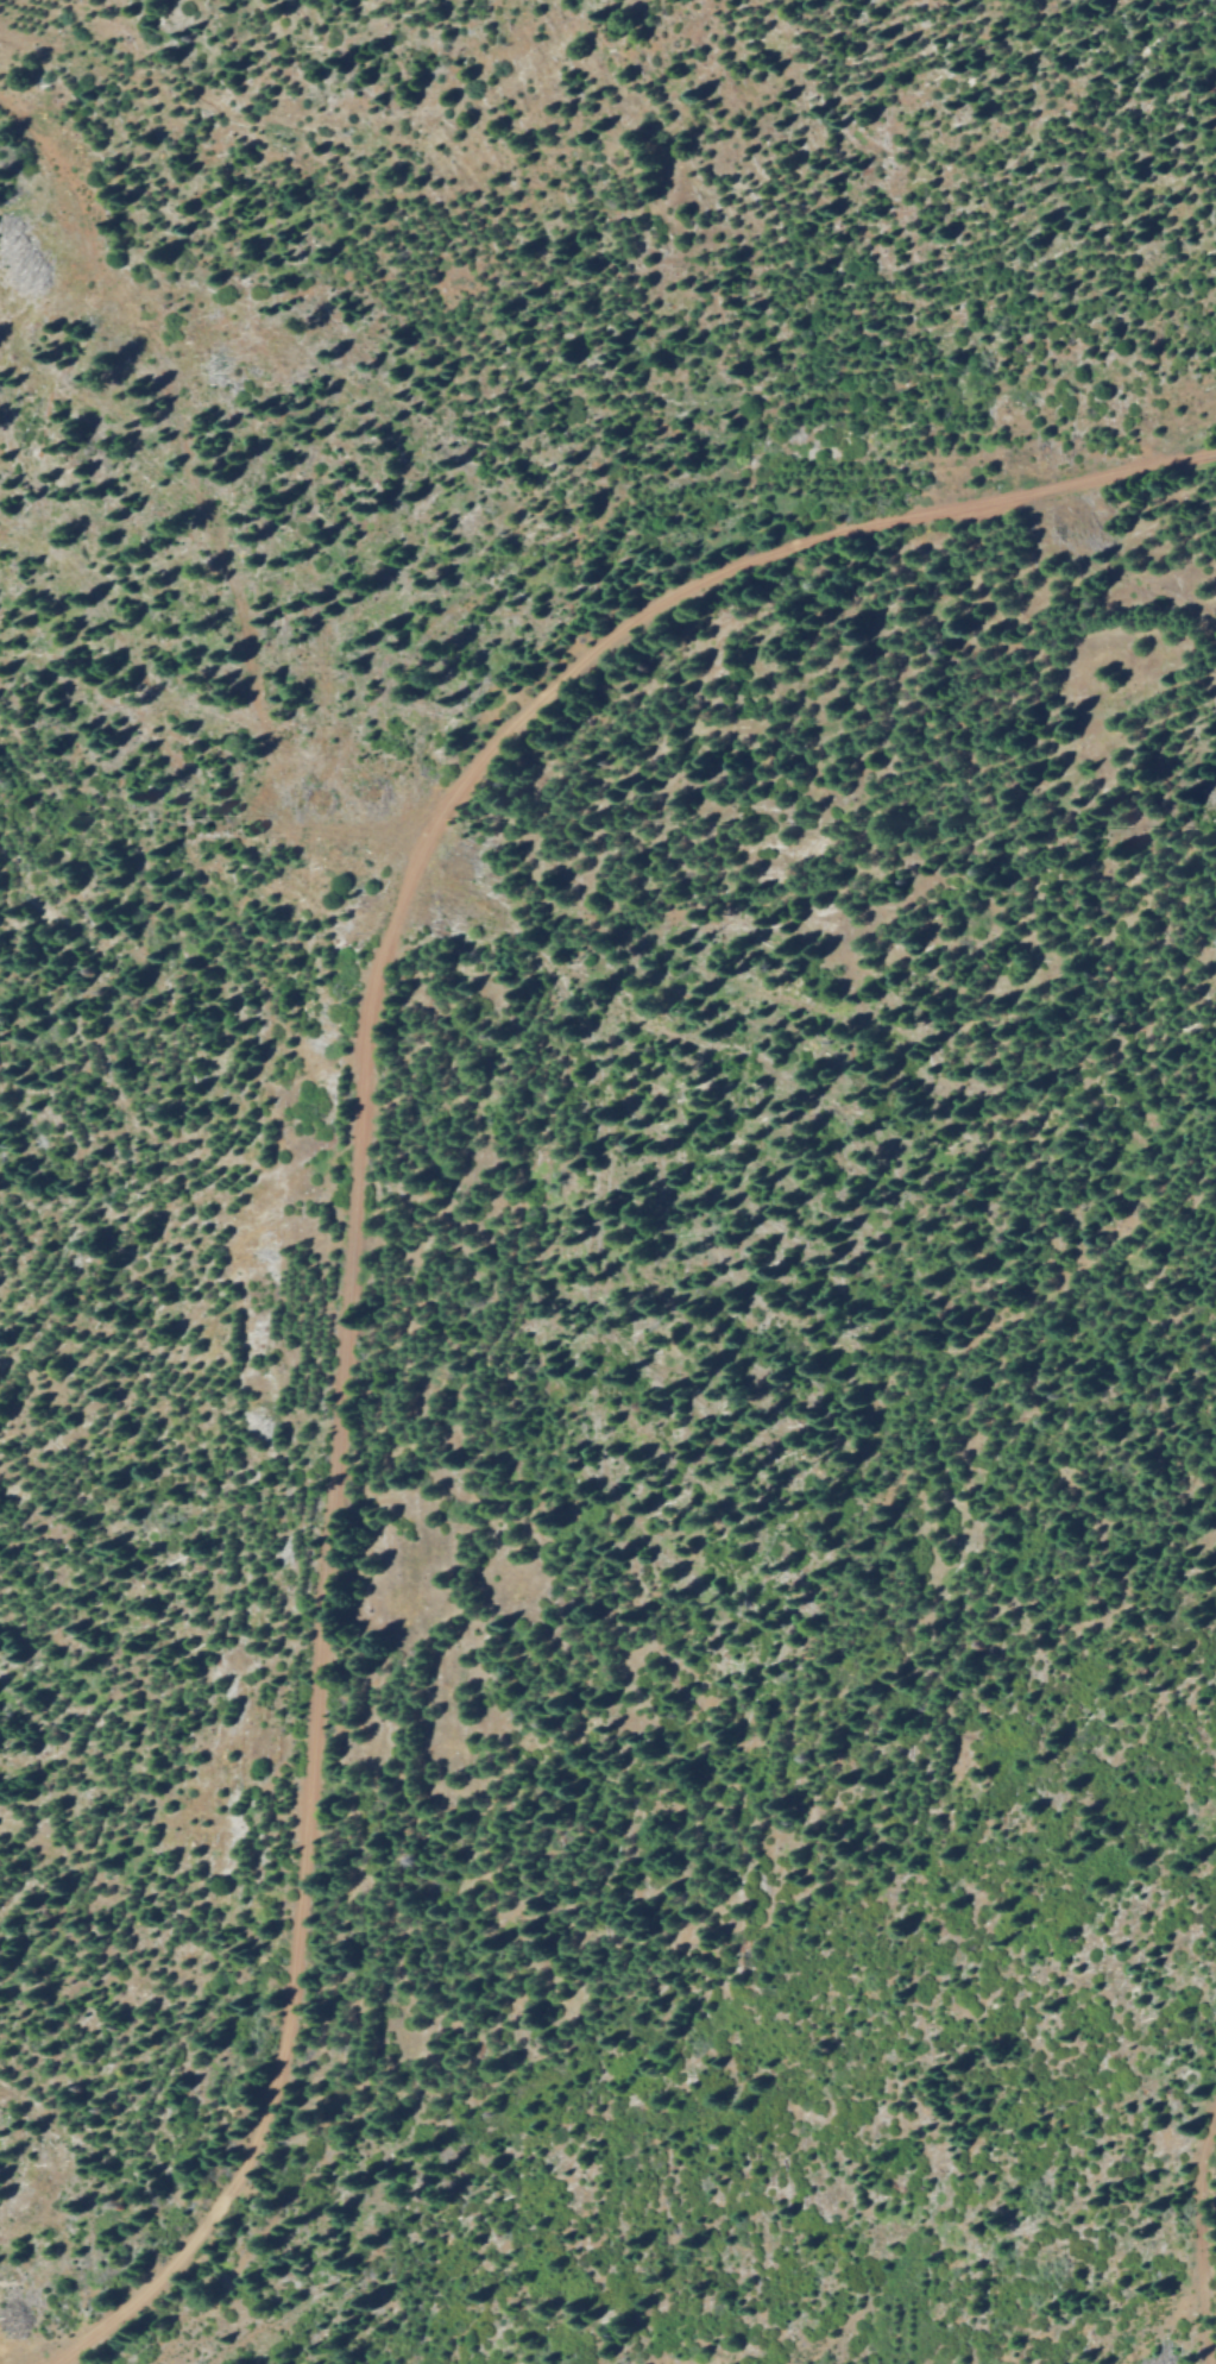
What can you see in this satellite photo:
road: (355, 1188)
road: (494, 1314)
road: (1197, 2227)
road: (1166, 2319)

